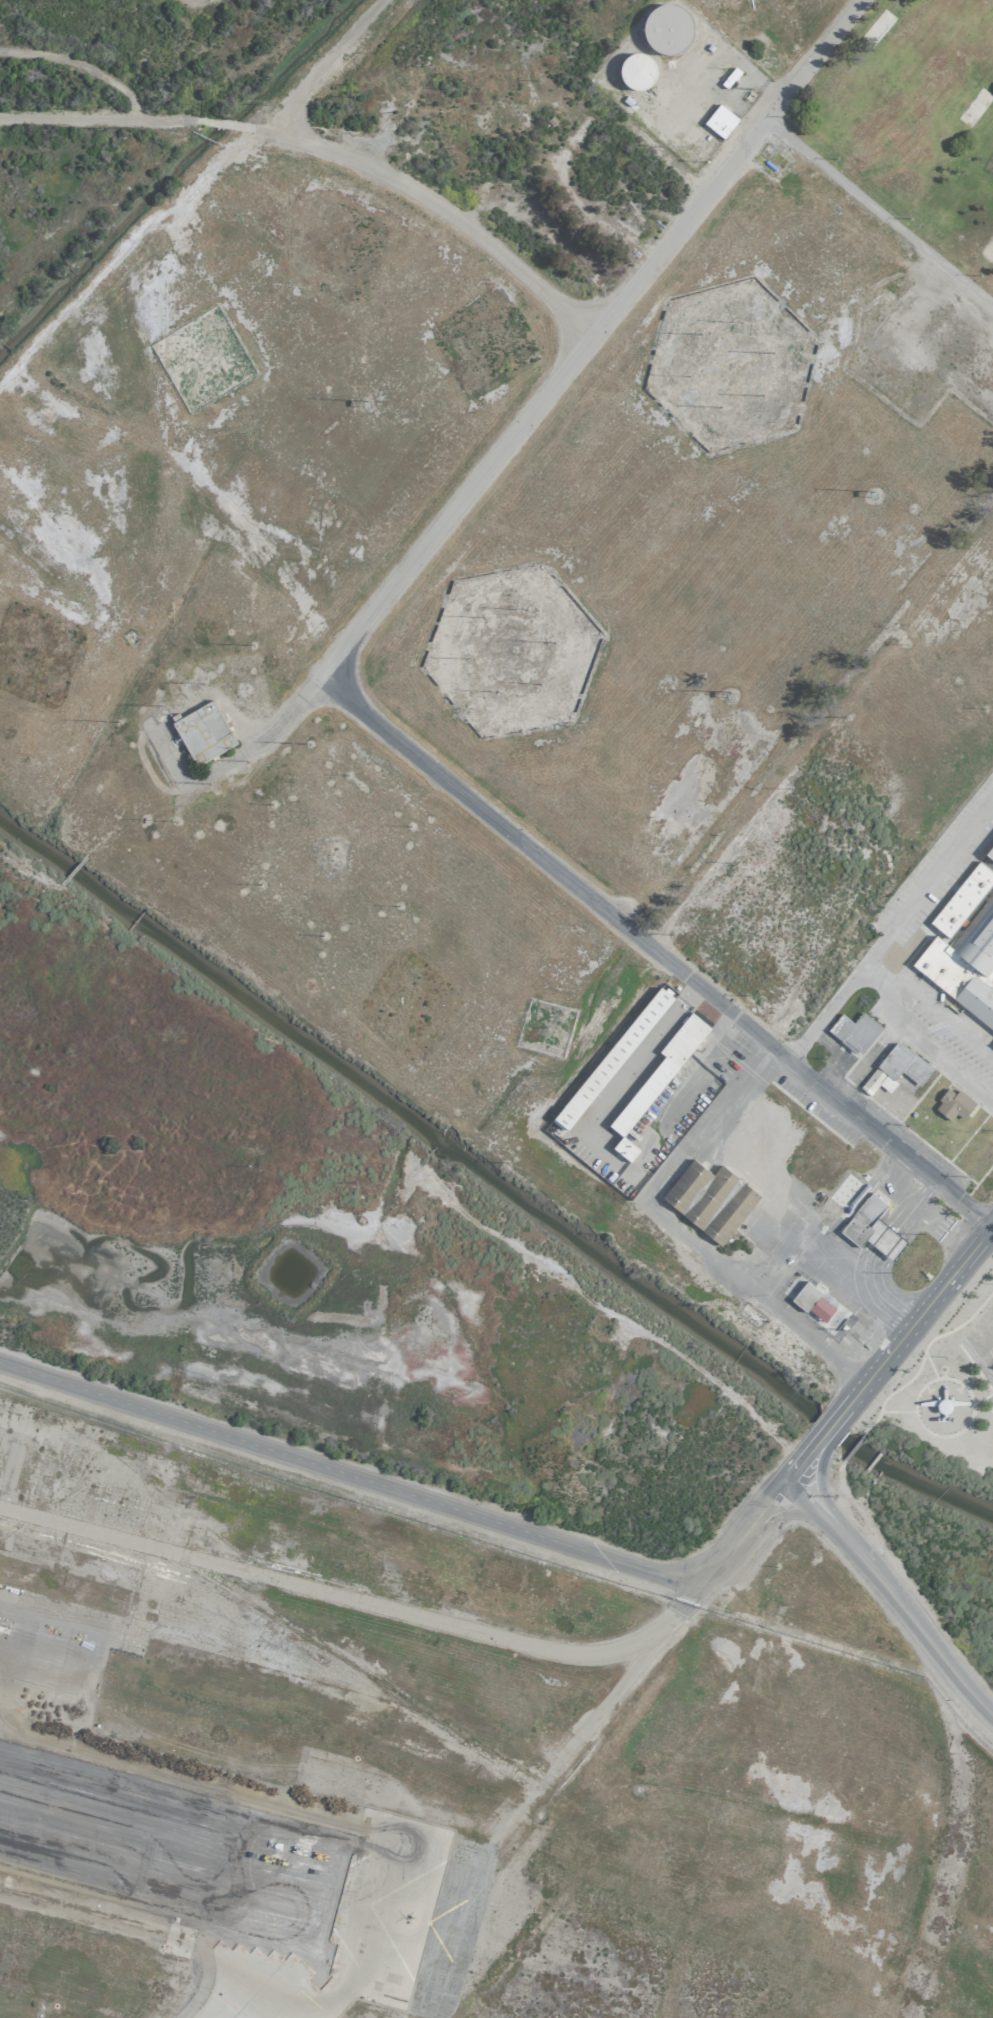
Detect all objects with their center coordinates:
park: (148, 20)
building: (668, 29)
building: (637, 71)
building: (719, 121)
road: (322, 150)
road: (878, 212)
road: (591, 332)
road: (276, 722)
building: (202, 732)
road: (890, 930)
building: (964, 945)
road: (658, 953)
road: (870, 978)
road: (881, 1000)
airport: (496, 1009)
building: (853, 1031)
building: (992, 1044)
building: (659, 1072)
building: (953, 1104)
building: (624, 1148)
road: (761, 1176)
building: (709, 1199)
building: (871, 1227)
road: (992, 1227)
road: (660, 1233)
road: (824, 1248)
building: (811, 1301)
road: (928, 1302)
road: (976, 1352)
road: (473, 1512)
road: (892, 1590)
road: (358, 1602)
road: (600, 1705)
airport runway: (236, 1873)
airport taxiway: (285, 1962)

